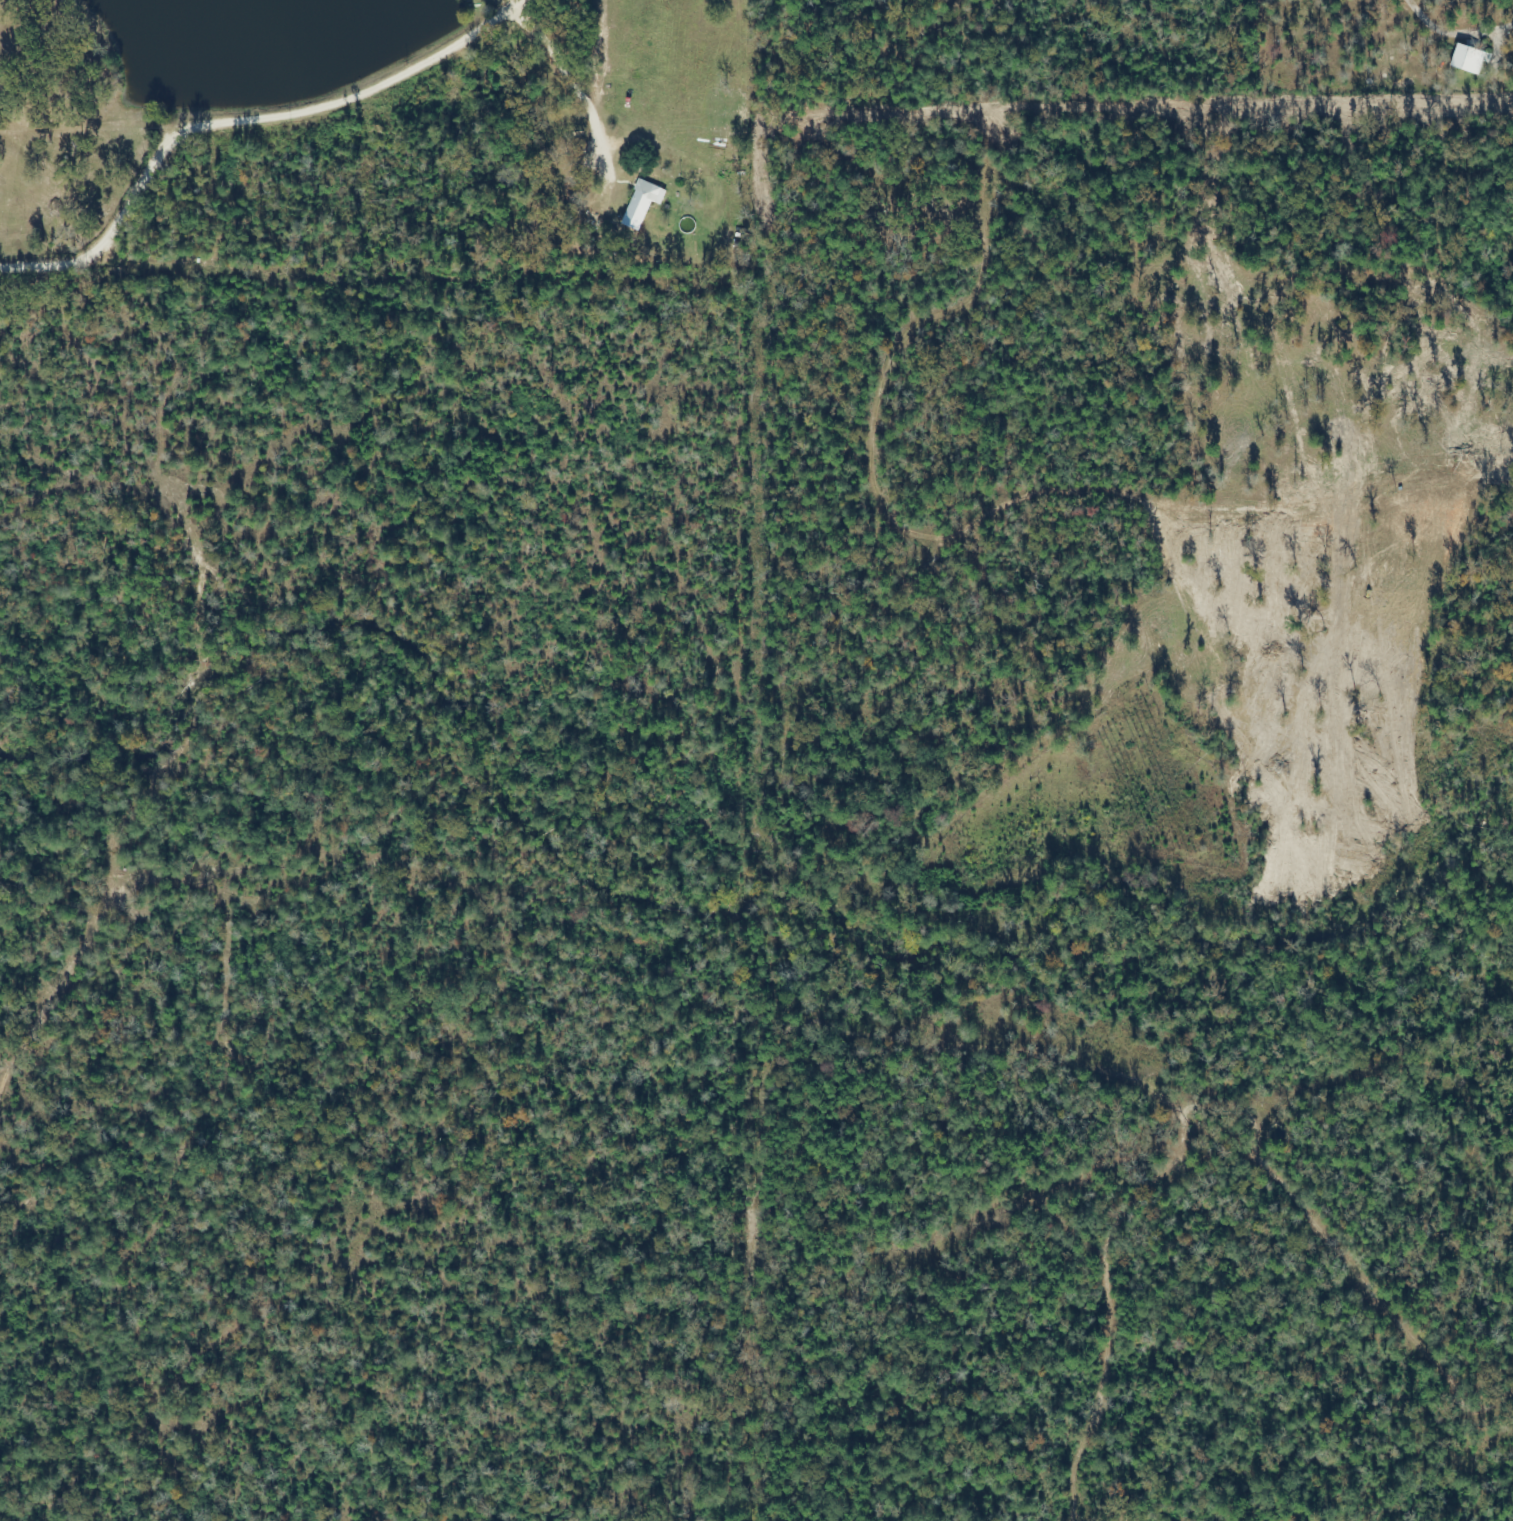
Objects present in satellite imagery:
building: (1469, 59)
road: (243, 122)
building: (640, 205)

